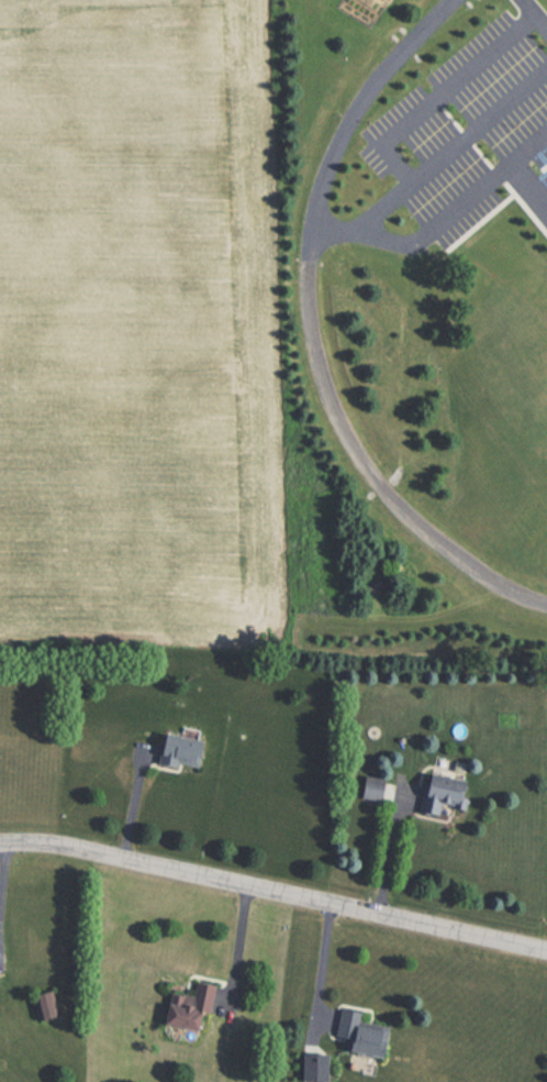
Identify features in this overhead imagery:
road: (534, 13)
road: (436, 166)
road: (528, 183)
road: (459, 203)
road: (312, 332)
building: (176, 748)
building: (371, 788)
building: (424, 793)
road: (1, 861)
road: (275, 883)
road: (238, 940)
road: (324, 962)
building: (42, 1004)
building: (185, 1006)
building: (351, 1036)

